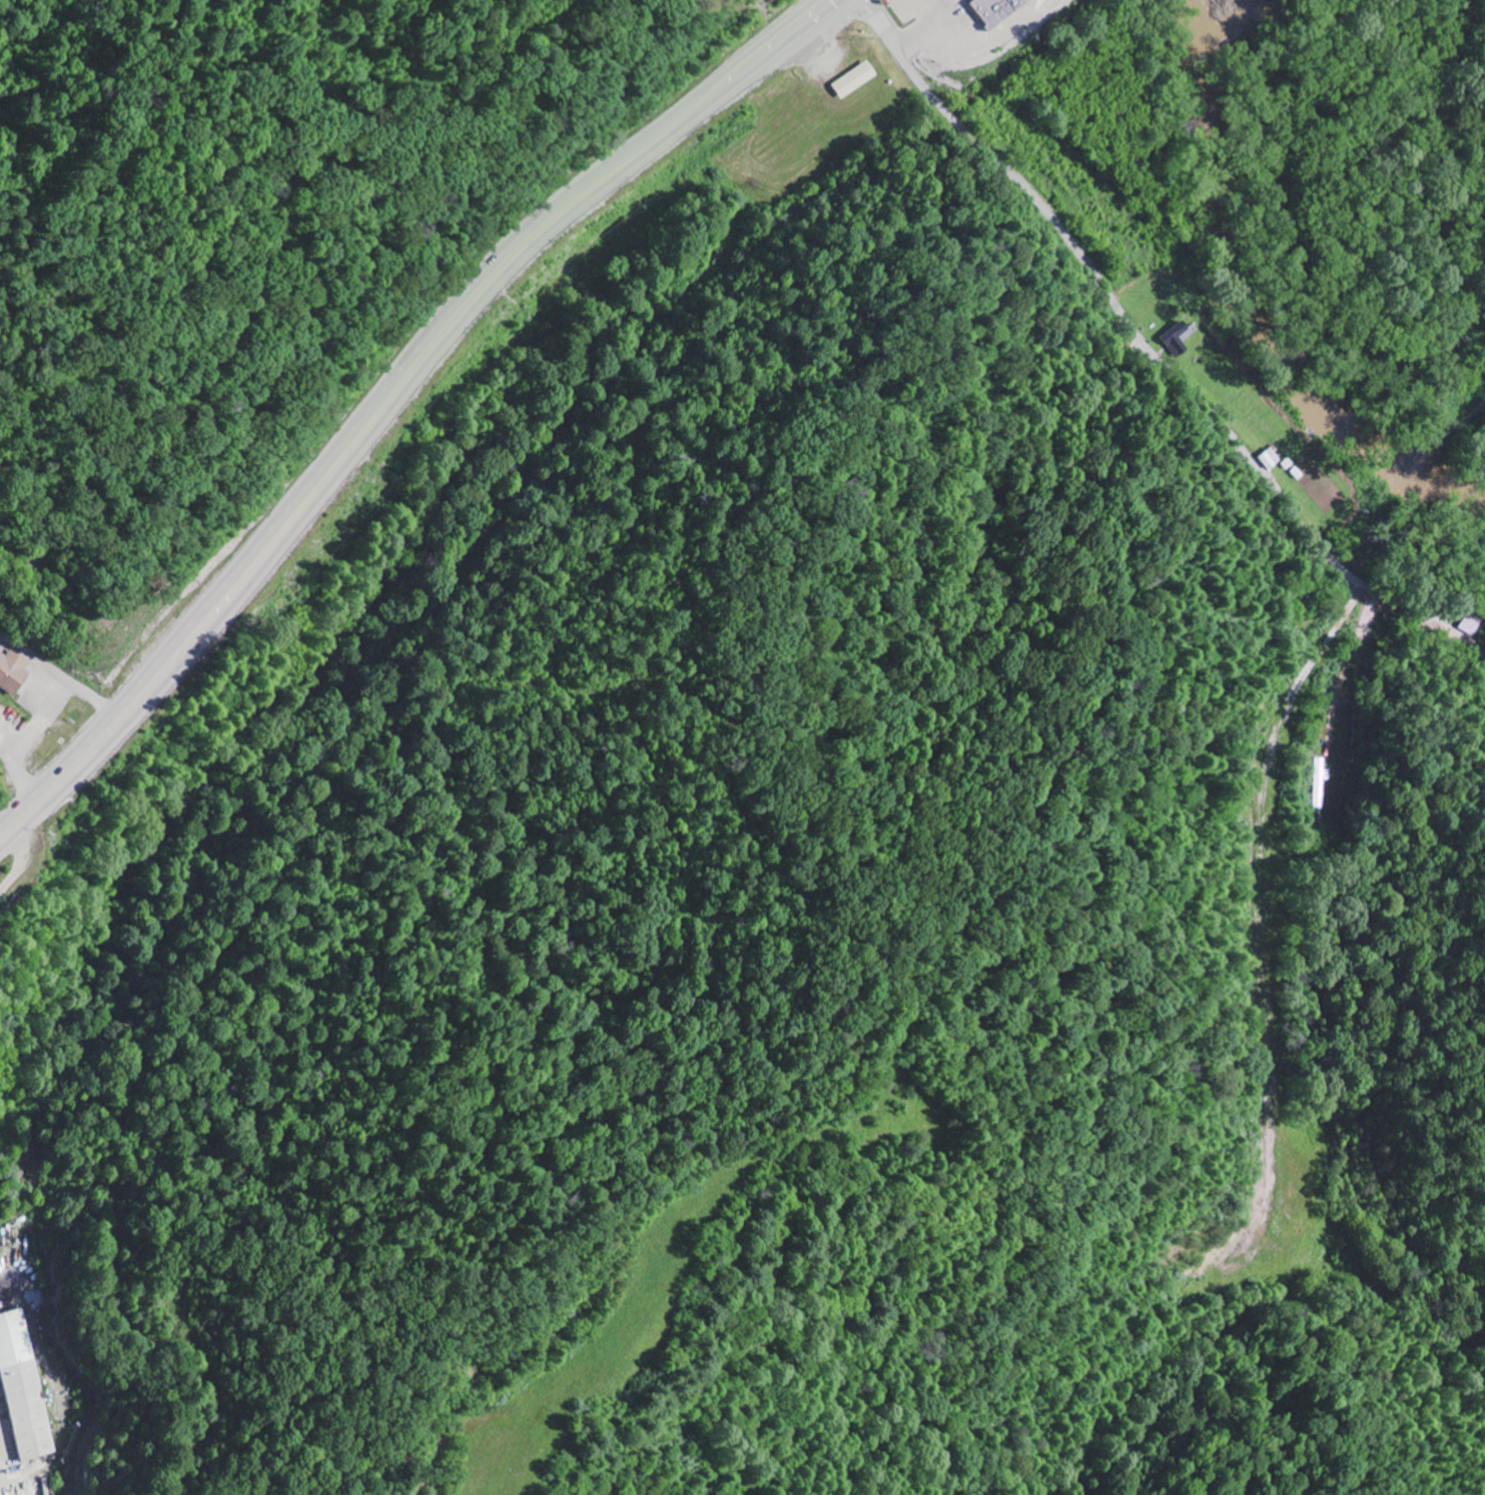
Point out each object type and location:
building: (998, 10)
building: (857, 80)
road: (1110, 295)
river: (1256, 304)
building: (1180, 339)
road: (390, 390)
building: (1265, 459)
road: (1423, 618)
building: (1467, 626)
building: (14, 673)
building: (1323, 784)
building: (27, 1387)

